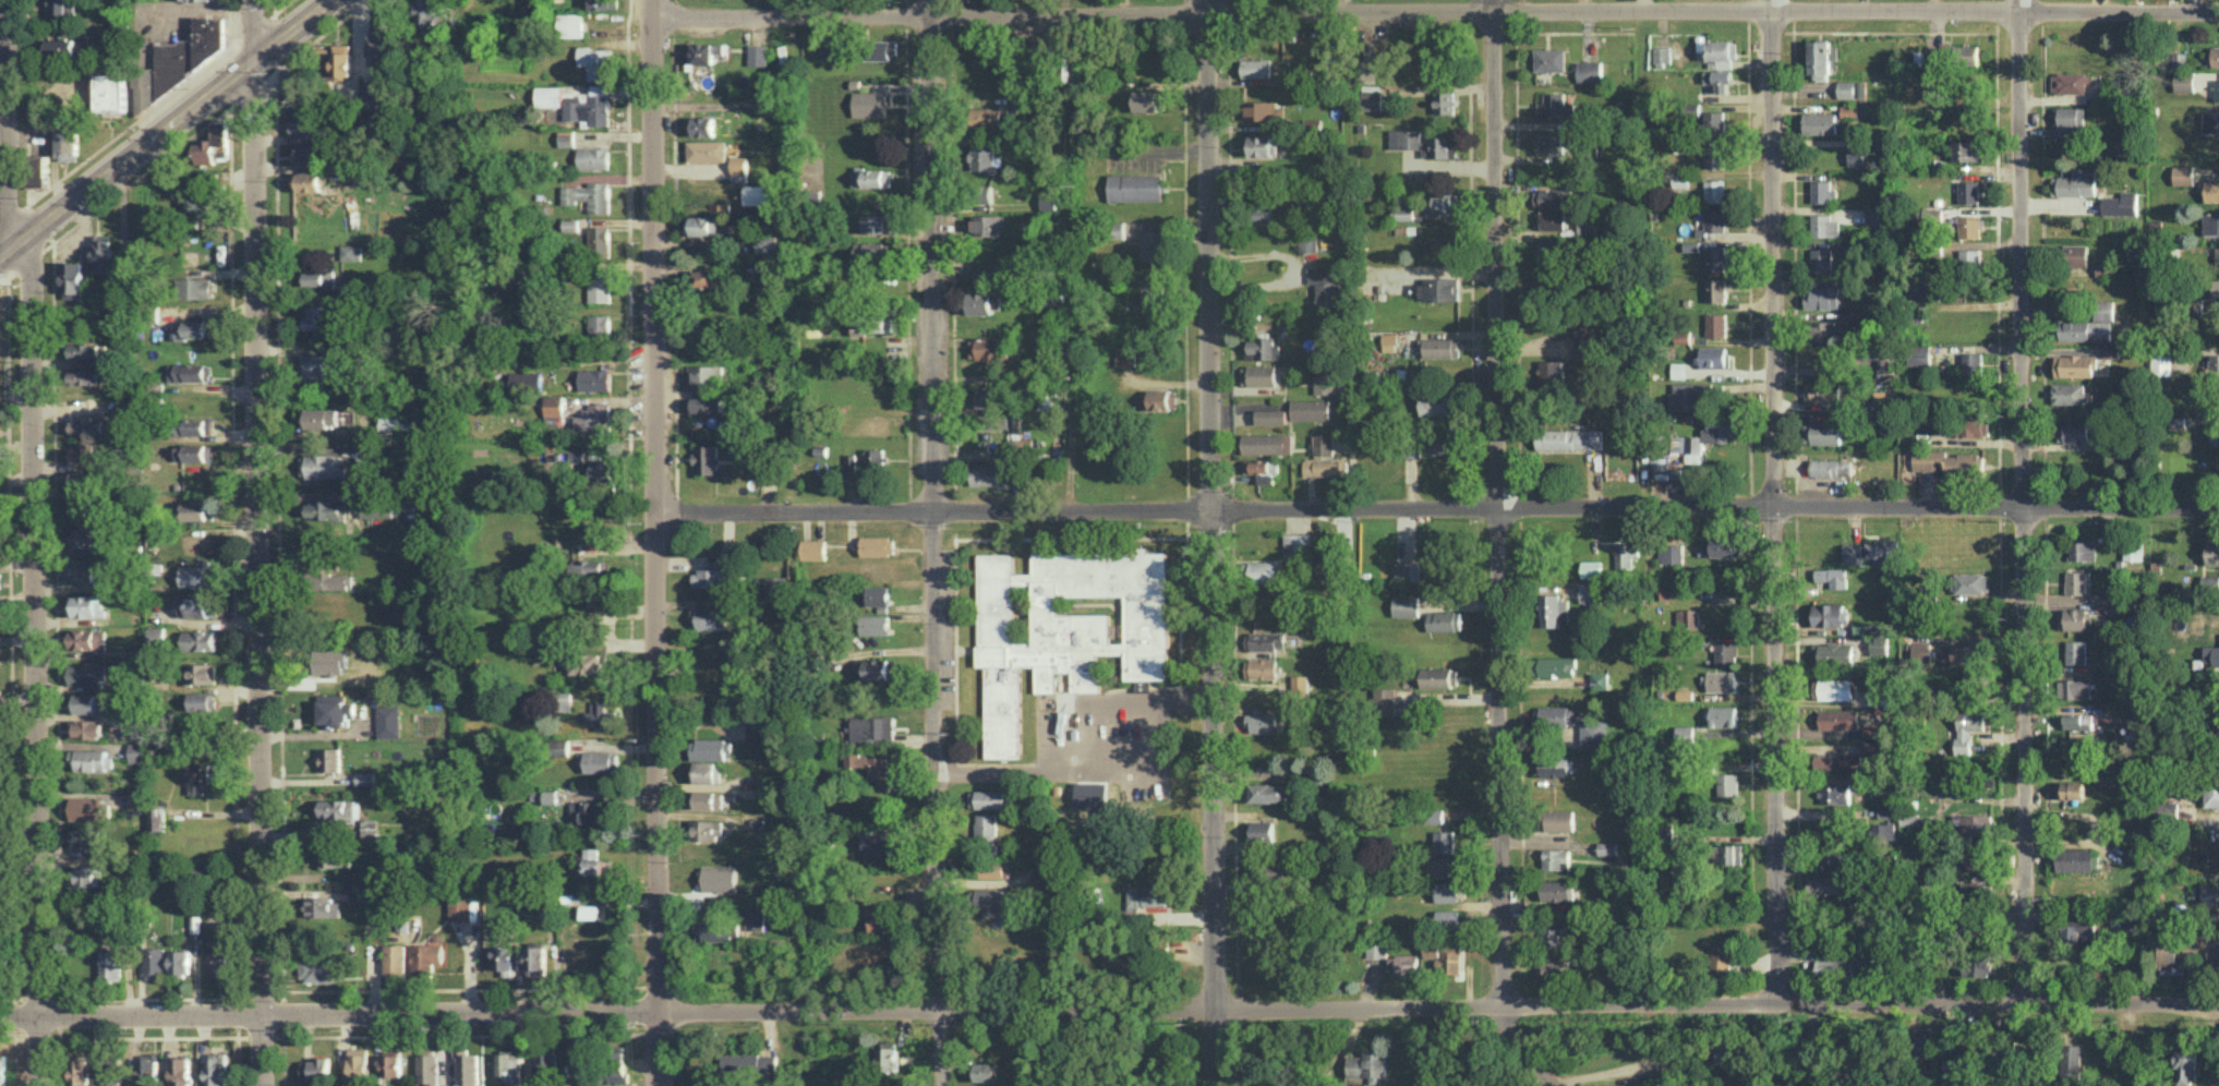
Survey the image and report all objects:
building: (192, 0)
road: (4, 2)
building: (603, 3)
building: (61, 7)
road: (280, 8)
road: (1438, 10)
building: (429, 12)
building: (570, 24)
road: (253, 26)
building: (117, 34)
building: (1039, 46)
building: (69, 47)
building: (379, 49)
building: (882, 49)
building: (1376, 49)
building: (830, 50)
building: (703, 51)
building: (189, 52)
building: (1722, 52)
building: (758, 53)
building: (1662, 53)
building: (1969, 55)
building: (2215, 56)
building: (1919, 58)
building: (342, 59)
building: (1549, 59)
building: (1823, 59)
building: (2179, 61)
building: (594, 62)
building: (1256, 68)
building: (1590, 71)
building: (1718, 80)
building: (2071, 82)
building: (2184, 82)
building: (143, 87)
building: (1847, 88)
building: (2217, 89)
building: (293, 90)
building: (112, 92)
building: (548, 96)
building: (1372, 97)
building: (370, 100)
building: (1145, 100)
building: (1445, 101)
building: (870, 104)
building: (1556, 106)
building: (590, 107)
building: (1264, 110)
building: (1849, 110)
building: (988, 119)
building: (2069, 120)
building: (2211, 121)
road: (10, 122)
building: (1714, 122)
building: (1820, 123)
building: (701, 125)
road: (166, 128)
building: (304, 128)
road: (119, 133)
building: (220, 133)
building: (1404, 137)
building: (566, 138)
building: (1553, 143)
building: (69, 145)
building: (1258, 145)
building: (1437, 146)
building: (707, 150)
building: (1967, 150)
building: (204, 152)
building: (306, 153)
building: (1857, 155)
building: (1714, 156)
building: (593, 157)
building: (984, 157)
building: (739, 168)
building: (39, 170)
building: (2183, 174)
building: (871, 177)
building: (309, 181)
building: (2077, 182)
building: (1135, 186)
building: (1715, 191)
building: (1822, 191)
building: (1968, 191)
building: (2211, 191)
building: (984, 193)
building: (757, 194)
building: (589, 195)
building: (1554, 197)
building: (1048, 201)
building: (1443, 201)
building: (203, 204)
building: (2121, 204)
building: (1263, 212)
building: (1403, 213)
building: (1878, 215)
building: (1932, 215)
building: (1552, 219)
building: (1714, 221)
building: (877, 222)
building: (570, 224)
building: (988, 224)
building: (2211, 224)
building: (706, 225)
building: (1824, 225)
building: (1588, 226)
building: (1970, 226)
building: (599, 241)
building: (767, 243)
building: (1307, 243)
building: (1153, 244)
building: (1440, 244)
building: (1691, 245)
building: (1551, 246)
building: (872, 250)
building: (350, 251)
building: (104, 254)
building: (2075, 255)
building: (2217, 257)
building: (1715, 258)
building: (1821, 258)
building: (1970, 258)
road: (1292, 266)
building: (2105, 269)
building: (768, 271)
building: (985, 274)
building: (73, 276)
building: (315, 278)
building: (709, 278)
building: (1546, 280)
building: (600, 286)
building: (1326, 286)
building: (2212, 287)
building: (194, 288)
building: (1442, 289)
building: (1716, 289)
building: (1153, 290)
building: (1933, 292)
building: (1824, 297)
building: (981, 302)
building: (2105, 309)
building: (114, 311)
building: (318, 316)
building: (875, 321)
building: (1716, 324)
building: (599, 325)
building: (192, 328)
building: (1286, 328)
building: (2085, 329)
building: (1824, 330)
road: (1353, 336)
building: (1389, 341)
building: (1583, 342)
building: (1440, 347)
building: (988, 348)
building: (1264, 348)
building: (91, 350)
building: (2111, 351)
building: (1125, 355)
building: (1919, 355)
building: (1714, 357)
building: (2161, 362)
building: (1971, 363)
building: (1884, 364)
building: (2215, 364)
building: (2074, 365)
building: (312, 367)
building: (1552, 370)
building: (1679, 370)
building: (189, 372)
building: (706, 375)
building: (1258, 375)
building: (88, 376)
building: (594, 378)
building: (526, 379)
building: (1324, 384)
building: (1823, 391)
building: (2069, 393)
building: (1687, 395)
building: (987, 397)
building: (1162, 398)
building: (1882, 399)
building: (706, 403)
building: (1437, 403)
building: (1310, 409)
building: (554, 410)
building: (1270, 415)
building: (321, 418)
building: (594, 420)
building: (997, 423)
building: (92, 425)
building: (395, 425)
building: (1973, 425)
building: (196, 426)
building: (0, 427)
building: (1717, 430)
building: (1822, 432)
building: (2076, 432)
building: (2214, 434)
building: (1570, 438)
building: (1267, 443)
building: (1324, 444)
building: (1438, 444)
building: (1690, 446)
building: (86, 451)
building: (195, 452)
building: (367, 454)
building: (2132, 456)
building: (706, 458)
building: (875, 458)
building: (849, 461)
building: (1949, 462)
building: (322, 466)
building: (1261, 466)
building: (1325, 467)
building: (1825, 467)
building: (604, 470)
building: (988, 473)
building: (1265, 478)
building: (86, 479)
road: (1773, 500)
road: (2023, 502)
road: (1496, 503)
building: (79, 504)
building: (327, 509)
building: (193, 510)
road: (1438, 510)
road: (279, 529)
building: (87, 536)
road: (258, 543)
road: (659, 543)
road: (937, 543)
road: (1211, 543)
building: (1295, 543)
building: (877, 545)
building: (1722, 546)
building: (812, 548)
road: (233, 550)
building: (2082, 550)
building: (1884, 551)
building: (2212, 552)
building: (1671, 553)
building: (1853, 553)
building: (2133, 553)
building: (1626, 554)
building: (1437, 555)
building: (86, 568)
building: (590, 568)
building: (1591, 568)
building: (1263, 570)
building: (1407, 571)
building: (197, 576)
building: (1833, 576)
building: (714, 577)
building: (2114, 578)
building: (0, 579)
building: (330, 580)
building: (2075, 581)
building: (1970, 582)
building: (2209, 583)
building: (776, 586)
building: (1590, 591)
building: (878, 595)
building: (86, 605)
building: (1406, 605)
building: (198, 606)
building: (599, 606)
building: (2111, 607)
building: (1553, 610)
building: (1831, 614)
building: (1688, 616)
building: (710, 617)
building: (2075, 618)
building: (1444, 619)
building: (873, 624)
building: (1065, 627)
building: (157, 636)
building: (88, 638)
building: (200, 639)
building: (1265, 640)
building: (1921, 651)
building: (2075, 651)
building: (1834, 652)
building: (1726, 653)
building: (1964, 653)
building: (2212, 654)
road: (37, 662)
building: (589, 663)
building: (1558, 666)
building: (1262, 667)
building: (880, 668)
building: (88, 673)
building: (202, 674)
building: (1437, 677)
building: (1600, 679)
building: (1722, 679)
building: (1300, 684)
building: (1969, 684)
building: (2217, 687)
building: (1835, 688)
building: (2074, 688)
building: (1685, 693)
building: (1879, 695)
road: (1101, 698)
building: (202, 700)
building: (565, 700)
building: (1384, 700)
building: (85, 702)
building: (335, 709)
building: (1555, 714)
building: (2218, 715)
building: (602, 716)
building: (1724, 716)
building: (1841, 719)
building: (389, 720)
building: (2078, 721)
building: (1262, 722)
building: (872, 727)
building: (1967, 727)
building: (86, 728)
building: (1872, 731)
building: (1685, 733)
building: (1595, 734)
building: (560, 746)
building: (1873, 747)
building: (708, 748)
building: (136, 751)
building: (93, 759)
building: (330, 759)
building: (1836, 760)
building: (602, 761)
building: (869, 763)
building: (1554, 765)
road: (1086, 768)
building: (707, 771)
building: (200, 775)
building: (365, 777)
building: (2106, 780)
building: (1728, 784)
building: (2071, 789)
building: (1269, 792)
building: (1835, 793)
building: (2211, 794)
building: (543, 795)
building: (136, 798)
building: (989, 798)
building: (707, 799)
building: (87, 808)
building: (2170, 808)
building: (337, 810)
building: (588, 810)
building: (1886, 811)
building: (1432, 814)
building: (155, 817)
building: (2131, 817)
building: (1909, 818)
building: (1560, 820)
building: (986, 823)
building: (1977, 823)
building: (369, 825)
building: (707, 830)
building: (1262, 830)
building: (1884, 830)
building: (84, 836)
building: (1444, 841)
building: (879, 844)
building: (1607, 847)
building: (1, 849)
building: (1730, 854)
building: (335, 856)
building: (1832, 856)
building: (1555, 857)
building: (1976, 857)
building: (2075, 859)
building: (590, 862)
building: (1443, 866)
building: (990, 868)
building: (86, 876)
building: (719, 878)
building: (1826, 884)
building: (1556, 890)
building: (1975, 890)
building: (1446, 891)
building: (2209, 893)
building: (358, 895)
building: (1147, 895)
building: (993, 897)
building: (322, 907)
building: (458, 907)
building: (590, 912)
building: (1447, 917)
building: (756, 919)
building: (879, 919)
building: (195, 924)
building: (2134, 925)
building: (2079, 930)
building: (715, 931)
building: (1552, 936)
building: (1374, 948)
building: (2166, 949)
building: (2214, 951)
building: (1445, 955)
building: (1121, 956)
building: (503, 957)
building: (1720, 957)
building: (427, 958)
building: (181, 961)
building: (395, 961)
building: (535, 961)
building: (155, 962)
building: (111, 964)
building: (218, 964)
building: (1402, 964)
building: (1832, 966)
building: (1976, 966)
building: (317, 967)
building: (1554, 967)
road: (465, 987)
road: (260, 992)
road: (149, 995)
road: (8, 997)
road: (38, 997)
road: (1998, 1003)
road: (888, 1009)
road: (284, 1012)
road: (239, 1015)
road: (15, 1016)
road: (61, 1016)
road: (465, 1033)
road: (149, 1036)
road: (262, 1036)
road: (8, 1037)
road: (38, 1037)
building: (1922, 1046)
road: (1517, 1049)
building: (617, 1051)
building: (1724, 1052)
building: (888, 1055)
road: (285, 1060)
road: (239, 1061)
building: (393, 1063)
building: (2071, 1063)
building: (583, 1064)
building: (750, 1064)
building: (543, 1065)
building: (358, 1066)
building: (2184, 1066)
building: (150, 1067)
building: (316, 1067)
building: (427, 1067)
building: (467, 1067)
building: (1366, 1067)
building: (1954, 1067)
building: (3, 1069)
building: (507, 1069)
building: (81, 1070)
building: (111, 1070)
building: (182, 1071)
building: (982, 1071)
building: (216, 1072)
building: (619, 1074)
building: (1624, 1085)

